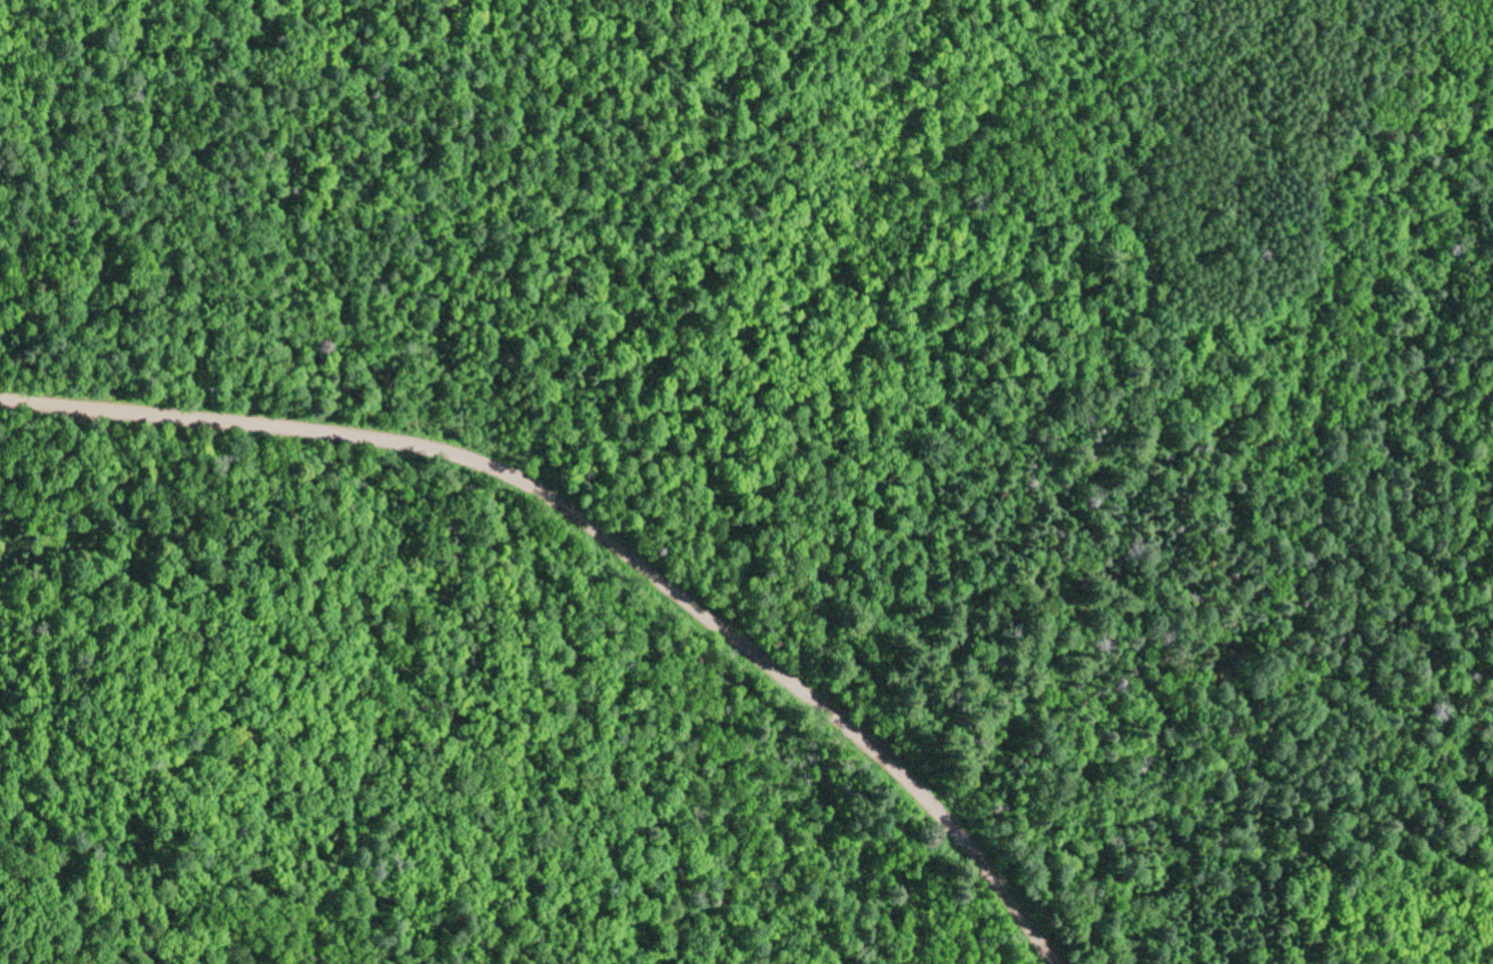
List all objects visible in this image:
road: (601, 535)

